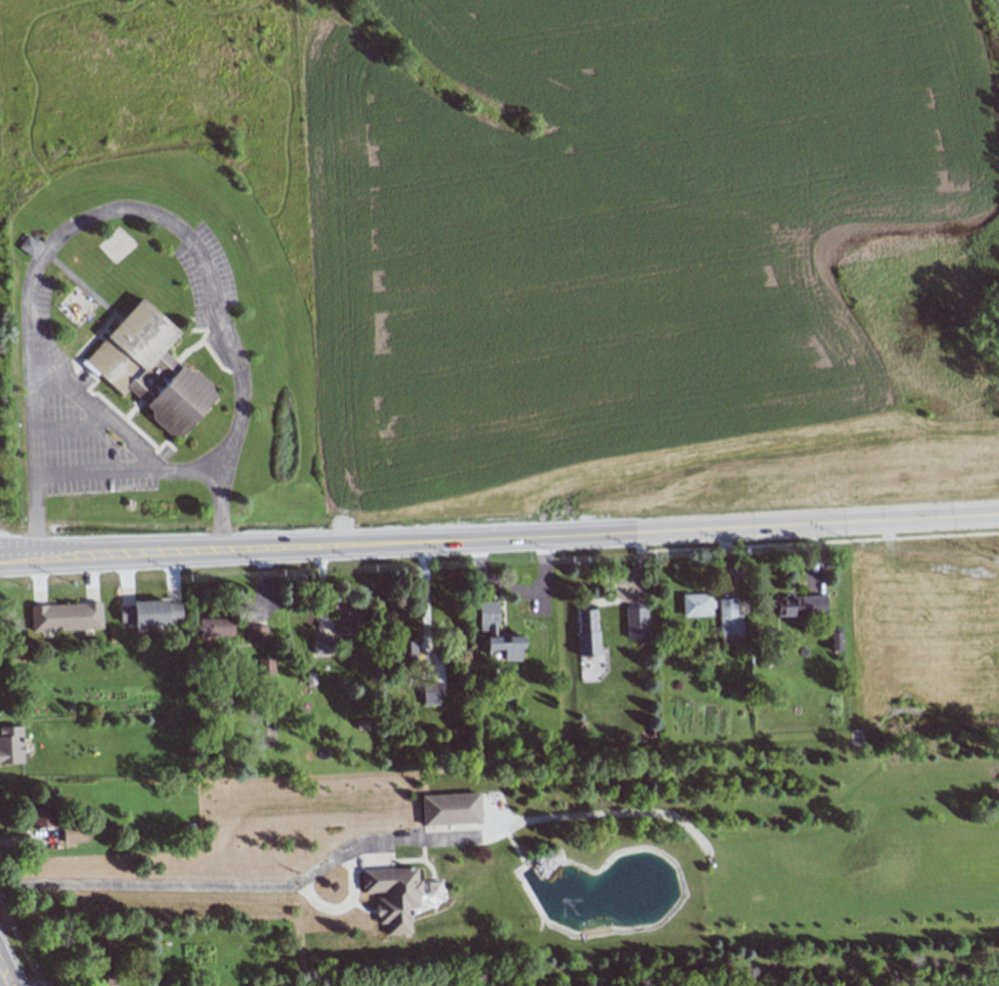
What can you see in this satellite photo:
road: (121, 207)
crop: (617, 225)
building: (28, 246)
road: (204, 346)
road: (186, 349)
road: (76, 361)
building: (150, 368)
road: (94, 412)
road: (126, 414)
road: (70, 427)
road: (125, 471)
road: (499, 540)
road: (817, 543)
road: (634, 548)
road: (424, 605)
building: (696, 605)
building: (800, 605)
building: (150, 613)
building: (65, 617)
building: (488, 617)
building: (351, 622)
building: (635, 622)
building: (729, 623)
building: (215, 627)
building: (586, 632)
building: (257, 633)
building: (835, 638)
building: (321, 644)
building: (506, 645)
building: (407, 652)
building: (266, 666)
building: (429, 693)
building: (11, 745)
building: (449, 809)
building: (41, 813)
road: (536, 819)
building: (73, 834)
road: (23, 839)
road: (395, 859)
road: (350, 875)
road: (430, 883)
road: (150, 884)
building: (433, 888)
building: (390, 895)
fountain: (562, 896)
road: (359, 907)
road: (429, 912)
road: (615, 926)
building: (103, 946)
road: (2, 980)

